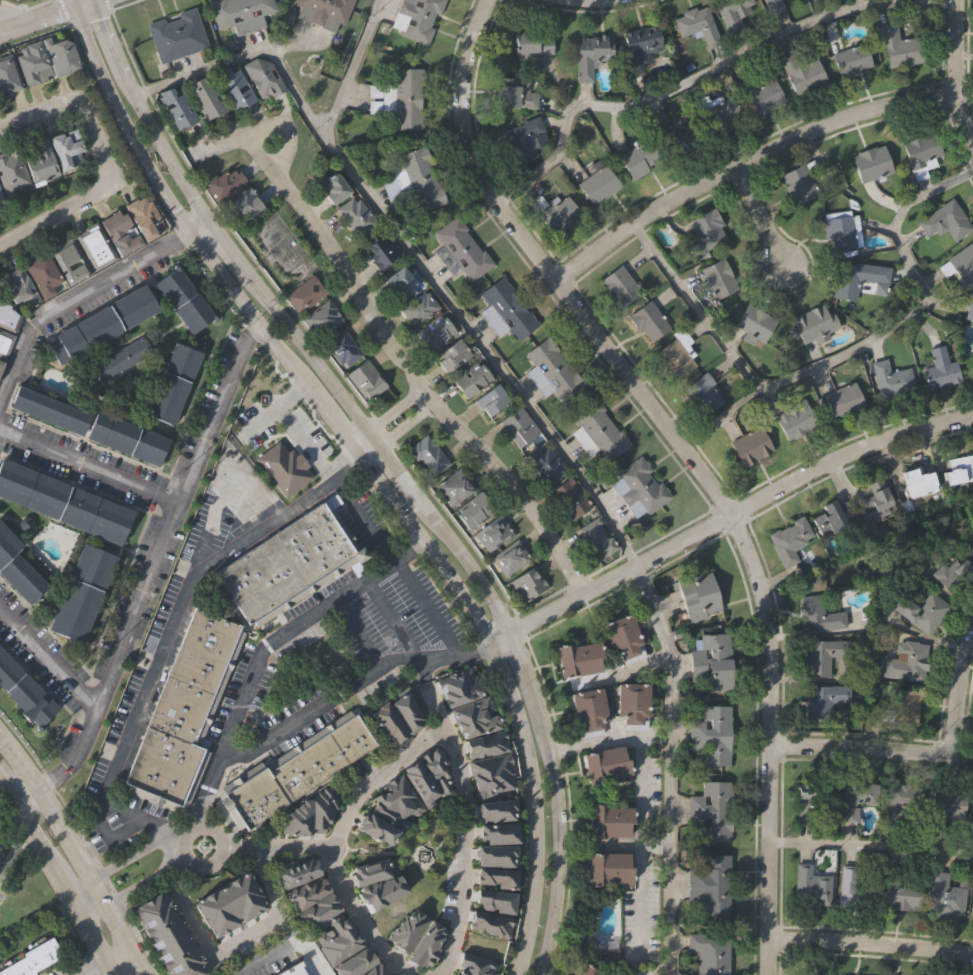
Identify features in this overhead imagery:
building: (812, 0)
road: (11, 4)
road: (36, 5)
road: (69, 5)
road: (83, 5)
building: (772, 6)
building: (326, 10)
building: (733, 12)
road: (11, 13)
building: (242, 13)
road: (6, 18)
building: (416, 18)
road: (82, 19)
road: (35, 21)
building: (696, 27)
building: (179, 34)
road: (111, 38)
building: (531, 43)
building: (639, 44)
building: (897, 47)
building: (590, 54)
building: (60, 55)
building: (850, 59)
building: (34, 62)
road: (352, 69)
building: (802, 70)
road: (703, 72)
building: (9, 73)
building: (262, 76)
road: (956, 77)
road: (134, 85)
building: (234, 89)
building: (515, 94)
building: (402, 96)
building: (206, 97)
building: (762, 97)
building: (175, 107)
building: (722, 116)
building: (681, 138)
building: (522, 139)
building: (67, 147)
building: (920, 154)
building: (638, 159)
building: (42, 161)
building: (869, 163)
road: (746, 164)
road: (107, 165)
building: (13, 168)
building: (418, 178)
building: (224, 184)
building: (597, 184)
building: (797, 184)
building: (333, 189)
building: (1, 194)
building: (0, 199)
building: (245, 204)
building: (554, 209)
road: (179, 211)
building: (146, 215)
building: (356, 216)
road: (762, 219)
building: (944, 220)
building: (123, 230)
building: (705, 231)
building: (839, 233)
building: (97, 243)
building: (460, 249)
building: (380, 253)
building: (71, 258)
building: (959, 263)
road: (247, 266)
road: (232, 267)
building: (45, 272)
building: (854, 277)
building: (717, 278)
building: (397, 282)
building: (619, 285)
building: (19, 286)
building: (304, 294)
road: (74, 296)
building: (186, 299)
building: (418, 309)
building: (508, 310)
building: (969, 313)
building: (8, 315)
building: (322, 320)
building: (649, 322)
building: (753, 322)
building: (103, 323)
building: (811, 325)
building: (434, 334)
building: (5, 342)
road: (392, 342)
building: (343, 350)
building: (125, 356)
building: (451, 357)
building: (675, 357)
road: (835, 357)
building: (1, 363)
building: (939, 369)
building: (552, 370)
building: (471, 379)
building: (890, 380)
building: (366, 381)
building: (175, 383)
building: (703, 393)
building: (491, 400)
building: (842, 400)
building: (51, 409)
road: (387, 415)
road: (534, 417)
building: (793, 418)
road: (259, 420)
road: (337, 422)
road: (291, 425)
parking lot: (252, 426)
building: (518, 428)
road: (399, 430)
building: (599, 430)
parking lot: (311, 432)
building: (129, 436)
road: (377, 436)
building: (749, 446)
building: (428, 457)
road: (690, 458)
building: (545, 465)
road: (88, 467)
building: (284, 467)
building: (957, 471)
road: (404, 472)
road: (225, 485)
building: (640, 485)
building: (919, 485)
building: (454, 488)
building: (569, 499)
building: (64, 501)
building: (874, 505)
building: (473, 511)
road: (736, 511)
road: (363, 519)
building: (829, 520)
building: (493, 535)
building: (596, 539)
building: (789, 540)
building: (509, 558)
road: (471, 565)
building: (17, 568)
road: (149, 572)
building: (953, 574)
building: (528, 584)
building: (698, 593)
building: (79, 594)
road: (429, 610)
building: (246, 612)
building: (921, 613)
building: (818, 617)
road: (393, 621)
road: (297, 624)
road: (167, 626)
road: (358, 636)
building: (625, 637)
parking lot: (338, 638)
building: (581, 657)
building: (824, 657)
road: (49, 658)
building: (713, 662)
building: (906, 663)
road: (620, 674)
road: (530, 675)
parking lot: (138, 677)
building: (25, 690)
road: (510, 691)
road: (433, 695)
road: (958, 695)
road: (332, 699)
building: (632, 700)
building: (823, 702)
building: (905, 708)
building: (408, 709)
building: (591, 711)
building: (389, 721)
building: (713, 734)
road: (610, 739)
building: (488, 743)
road: (871, 747)
building: (607, 763)
building: (164, 769)
building: (436, 769)
building: (295, 770)
building: (493, 775)
building: (420, 780)
road: (639, 780)
building: (856, 799)
building: (396, 802)
building: (806, 806)
building: (903, 806)
building: (322, 808)
building: (945, 808)
building: (497, 809)
building: (712, 810)
building: (611, 820)
building: (376, 826)
building: (500, 831)
road: (85, 841)
road: (341, 842)
road: (218, 843)
road: (279, 844)
road: (637, 845)
road: (871, 845)
road: (559, 847)
road: (467, 851)
road: (78, 853)
road: (17, 854)
building: (499, 855)
road: (127, 858)
road: (2, 861)
park: (10, 862)
building: (611, 867)
building: (297, 870)
building: (370, 871)
road: (62, 876)
road: (157, 876)
building: (498, 876)
building: (712, 883)
building: (811, 888)
building: (856, 888)
building: (307, 892)
building: (900, 896)
building: (945, 897)
building: (497, 900)
road: (638, 902)
building: (227, 904)
road: (103, 906)
building: (319, 910)
building: (972, 910)
building: (492, 922)
road: (249, 932)
building: (167, 935)
building: (418, 935)
road: (871, 941)
road: (78, 943)
road: (288, 951)
building: (712, 952)
building: (32, 957)
road: (121, 964)
building: (354, 964)
building: (475, 965)
road: (97, 967)
building: (293, 969)
building: (376, 970)
building: (585, 970)
road: (638, 973)

